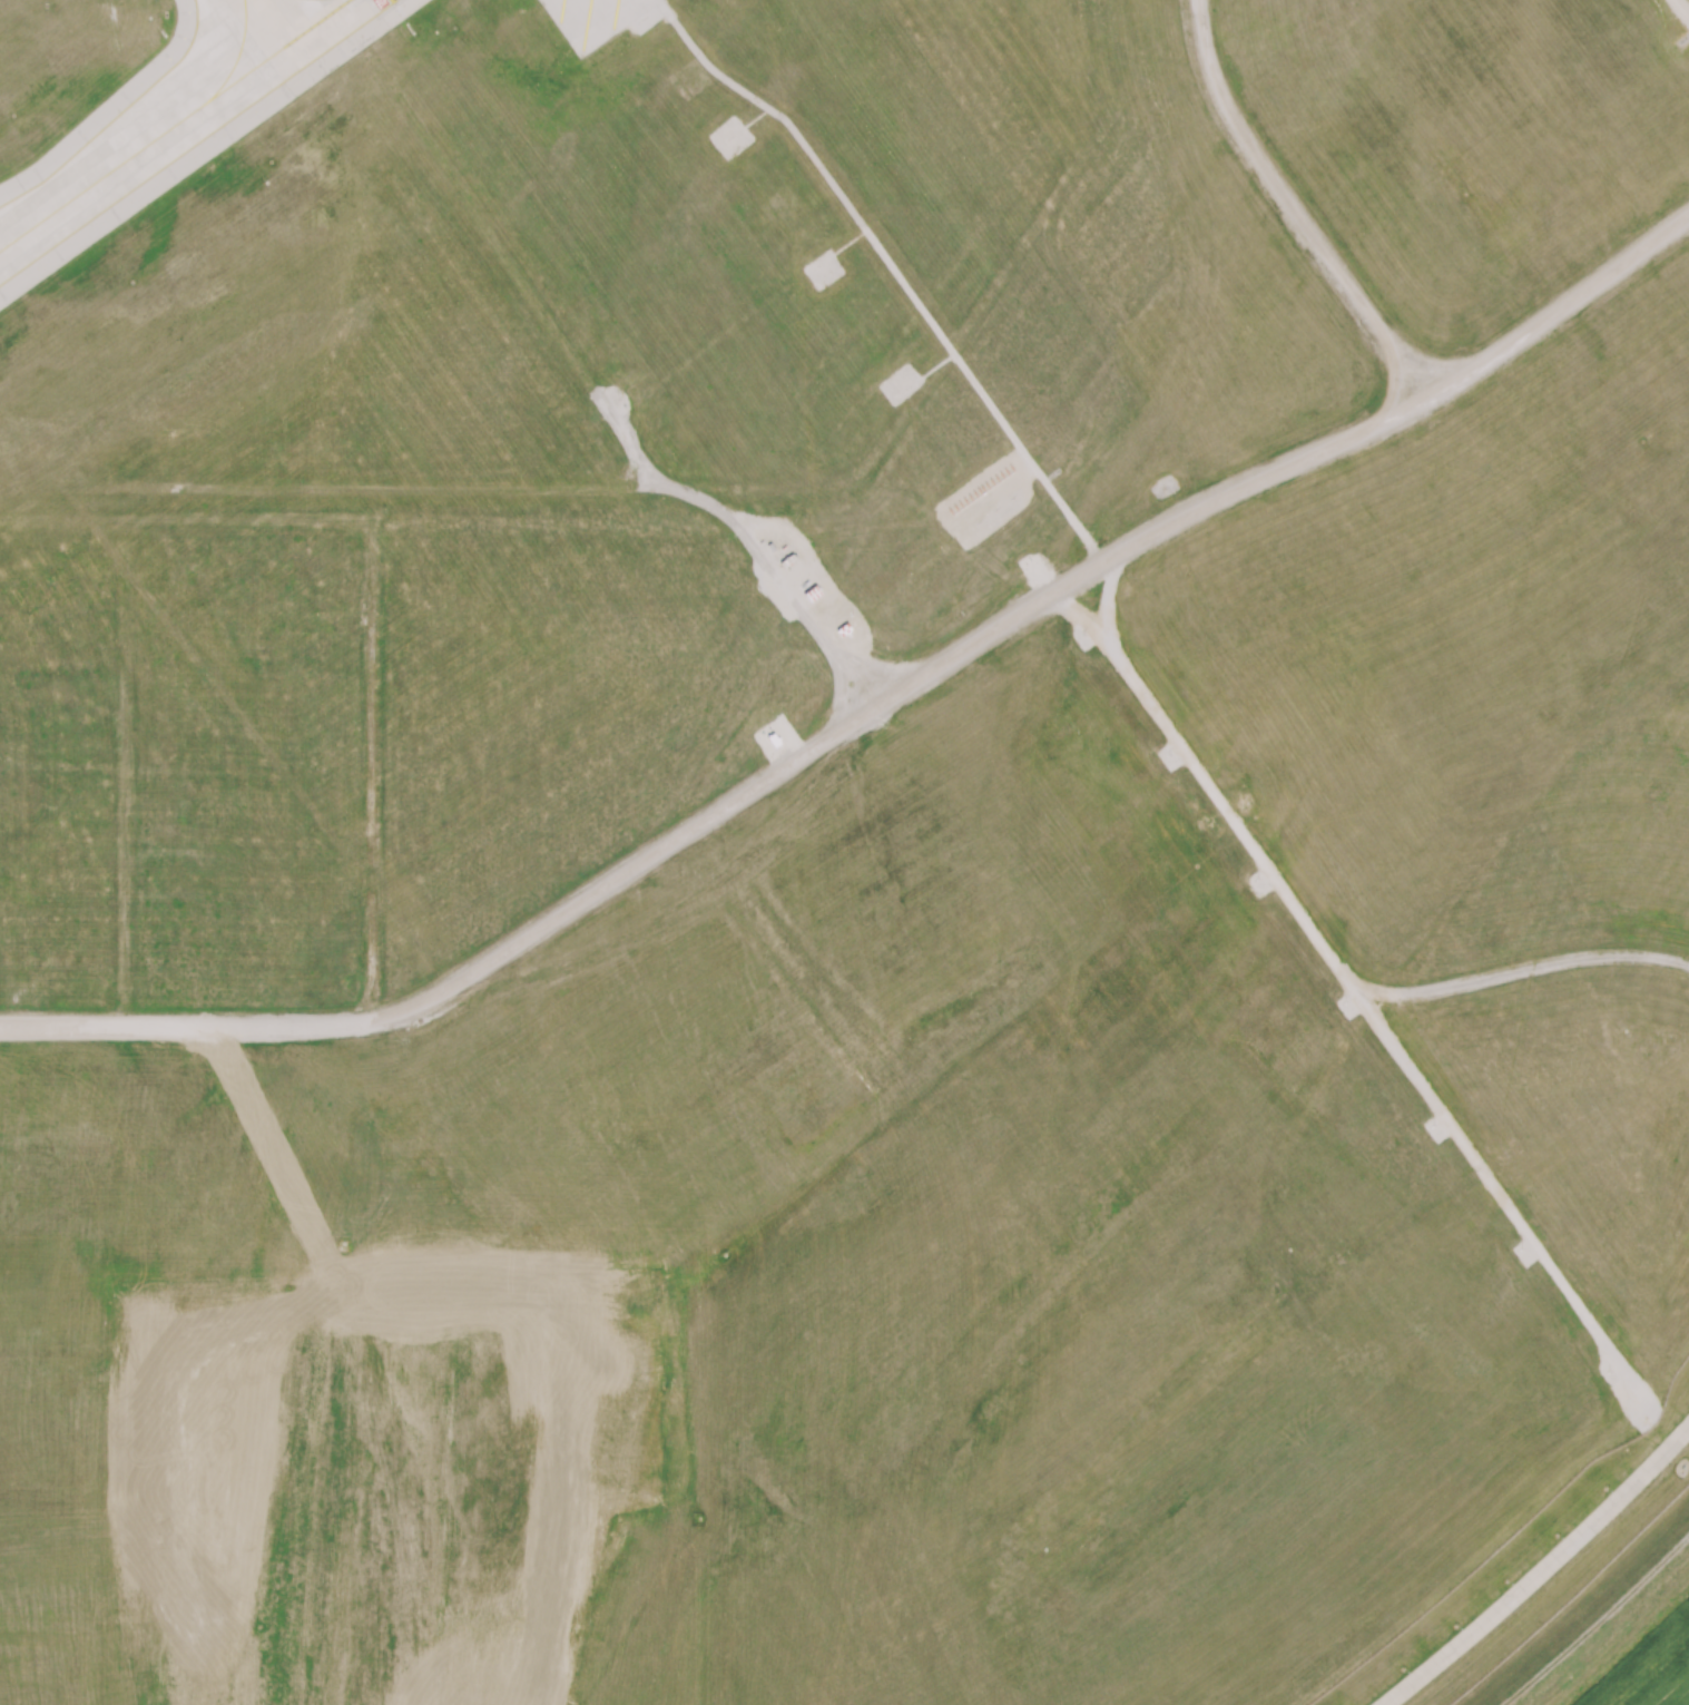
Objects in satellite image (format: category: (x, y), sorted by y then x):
road: (1678, 14)
airport taxiway: (238, 56)
airport taxiway: (174, 126)
road: (1292, 208)
road: (870, 715)
airport: (837, 845)
road: (1312, 925)
road: (1499, 1196)
road: (1542, 1571)

